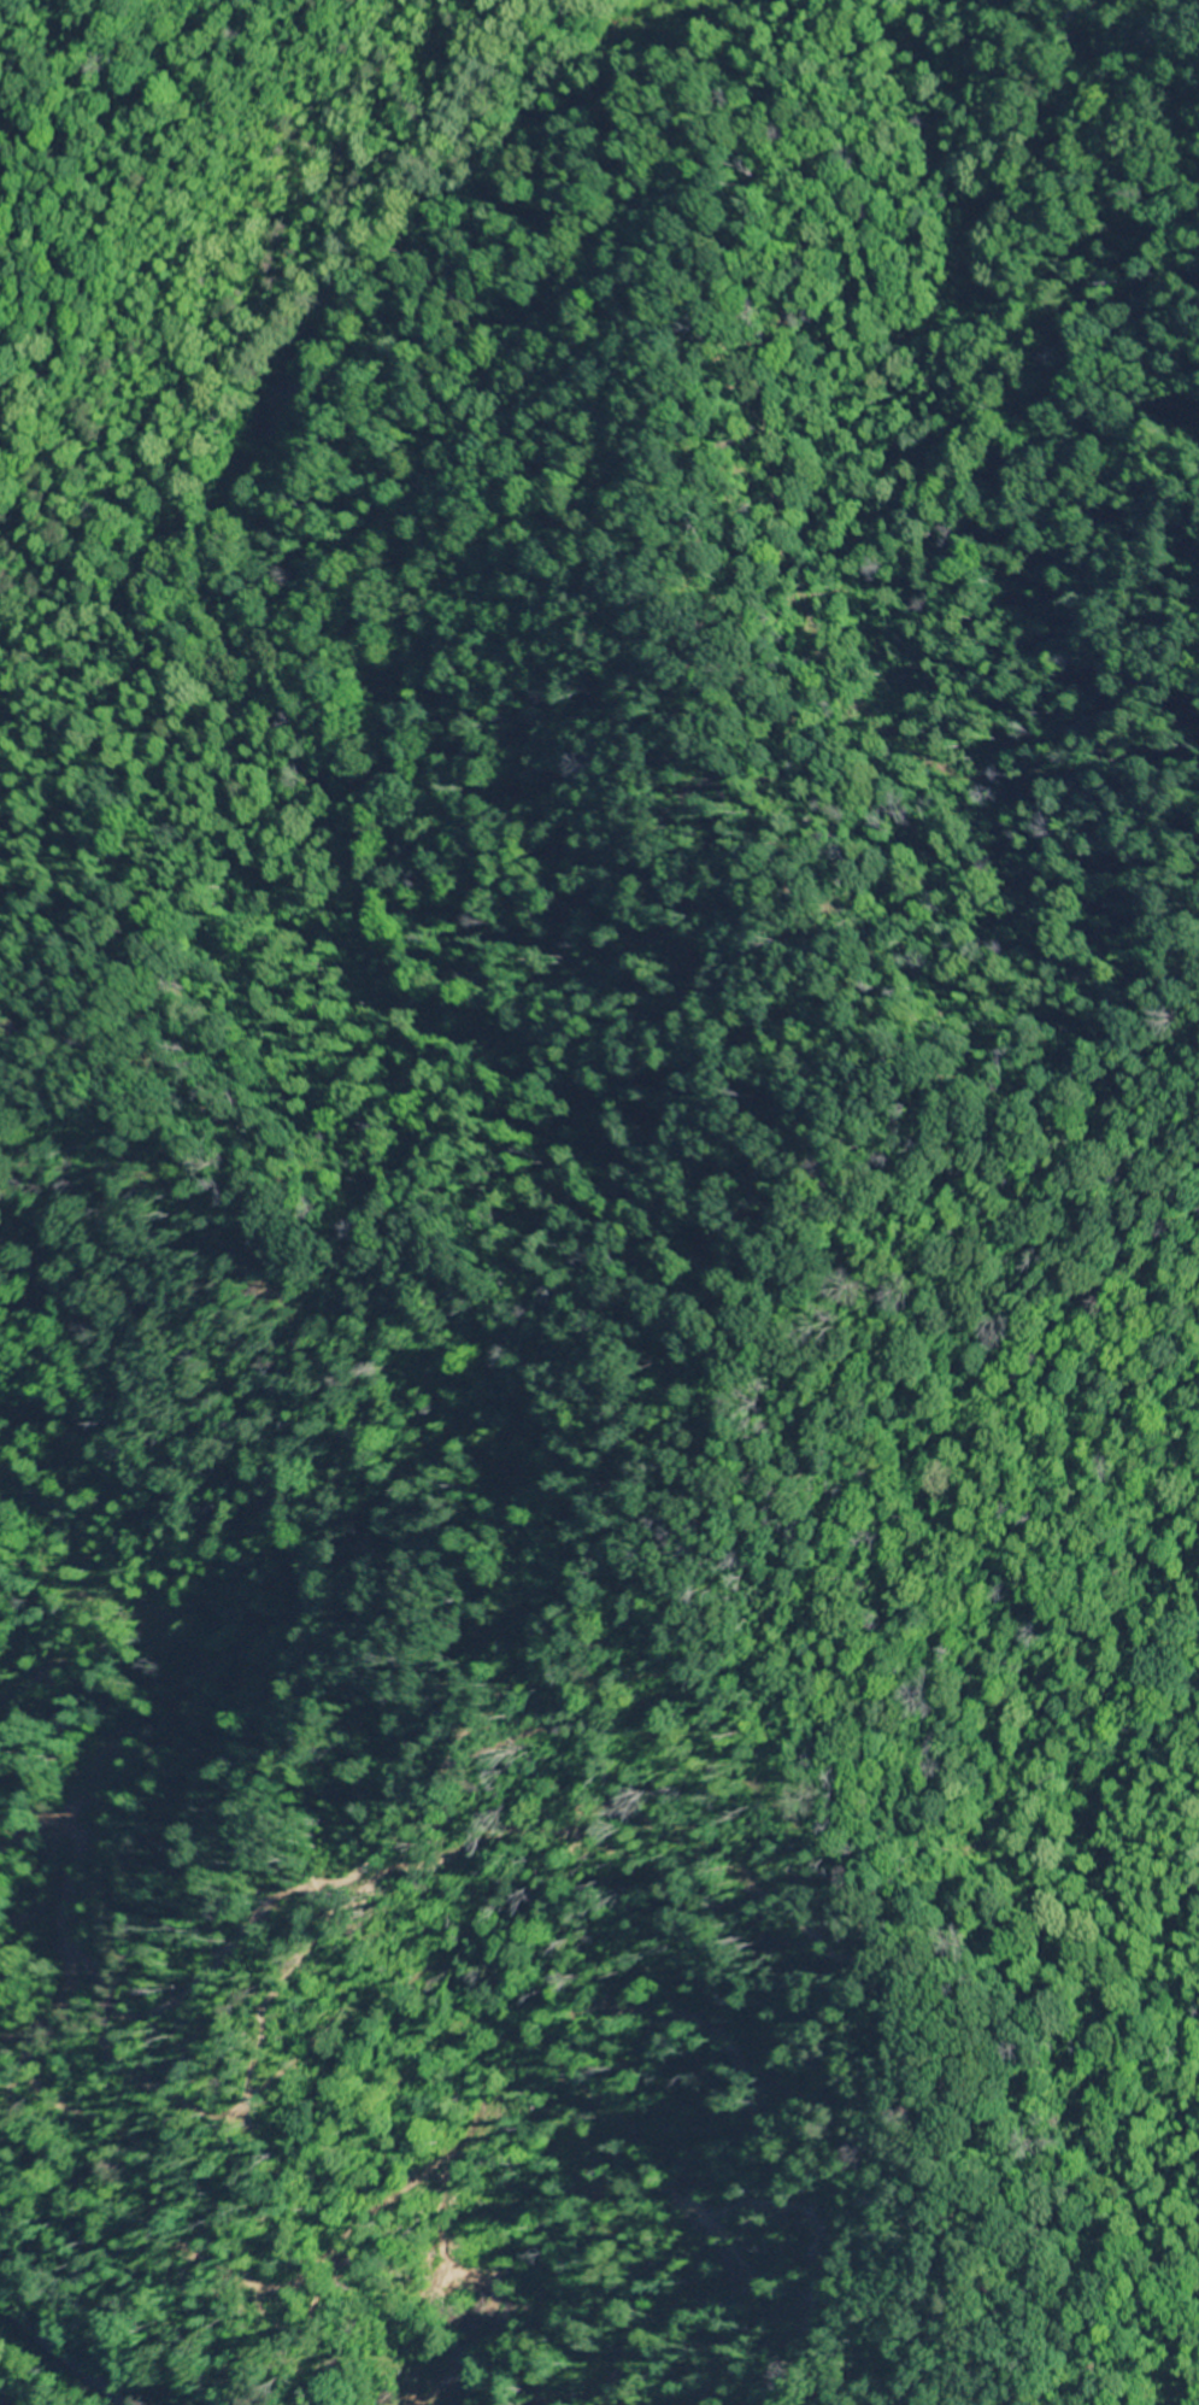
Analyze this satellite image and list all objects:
road: (58, 2357)

